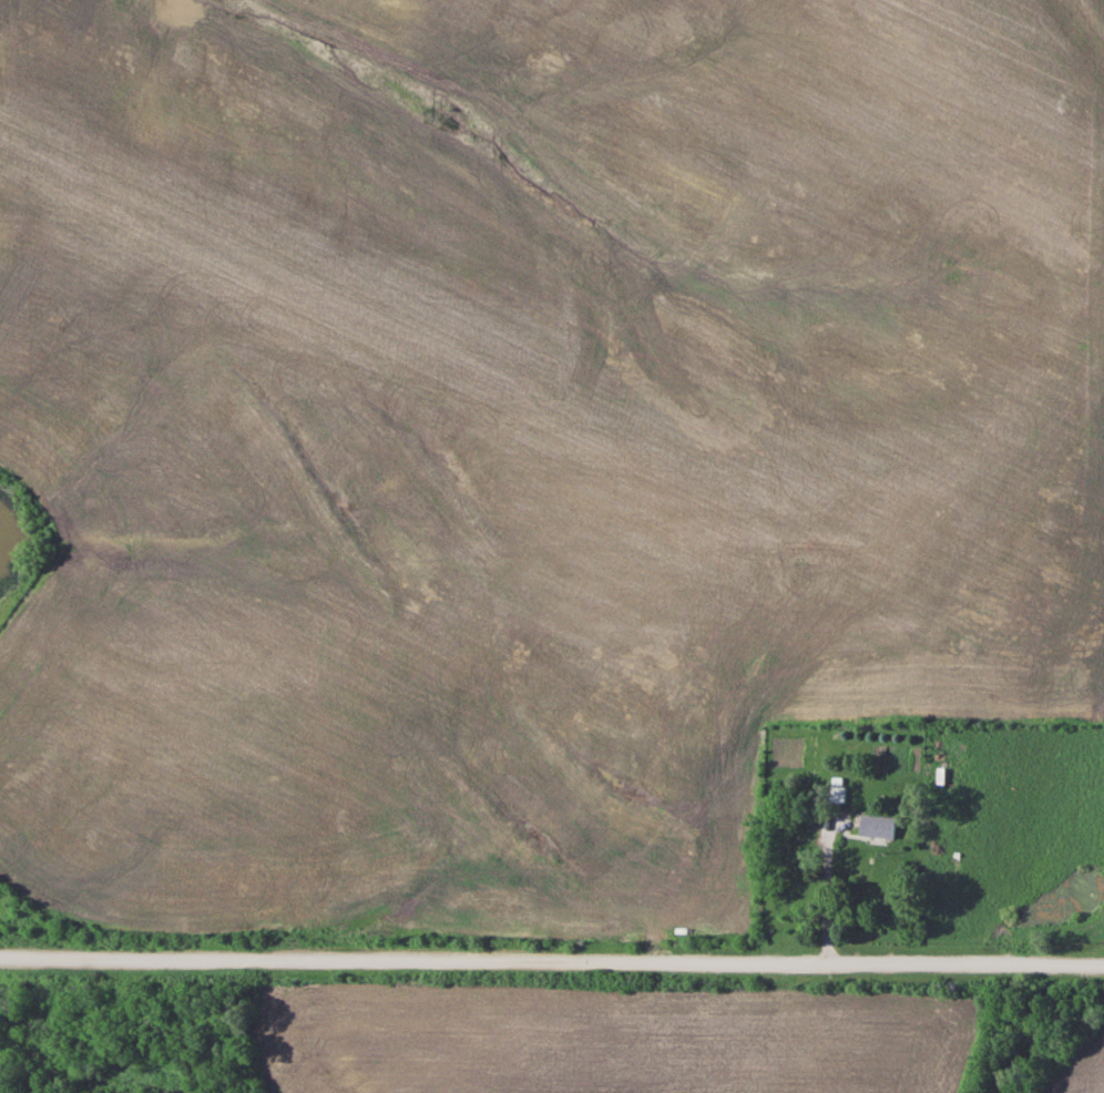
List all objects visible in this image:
building: (835, 791)
building: (875, 823)
road: (552, 953)

